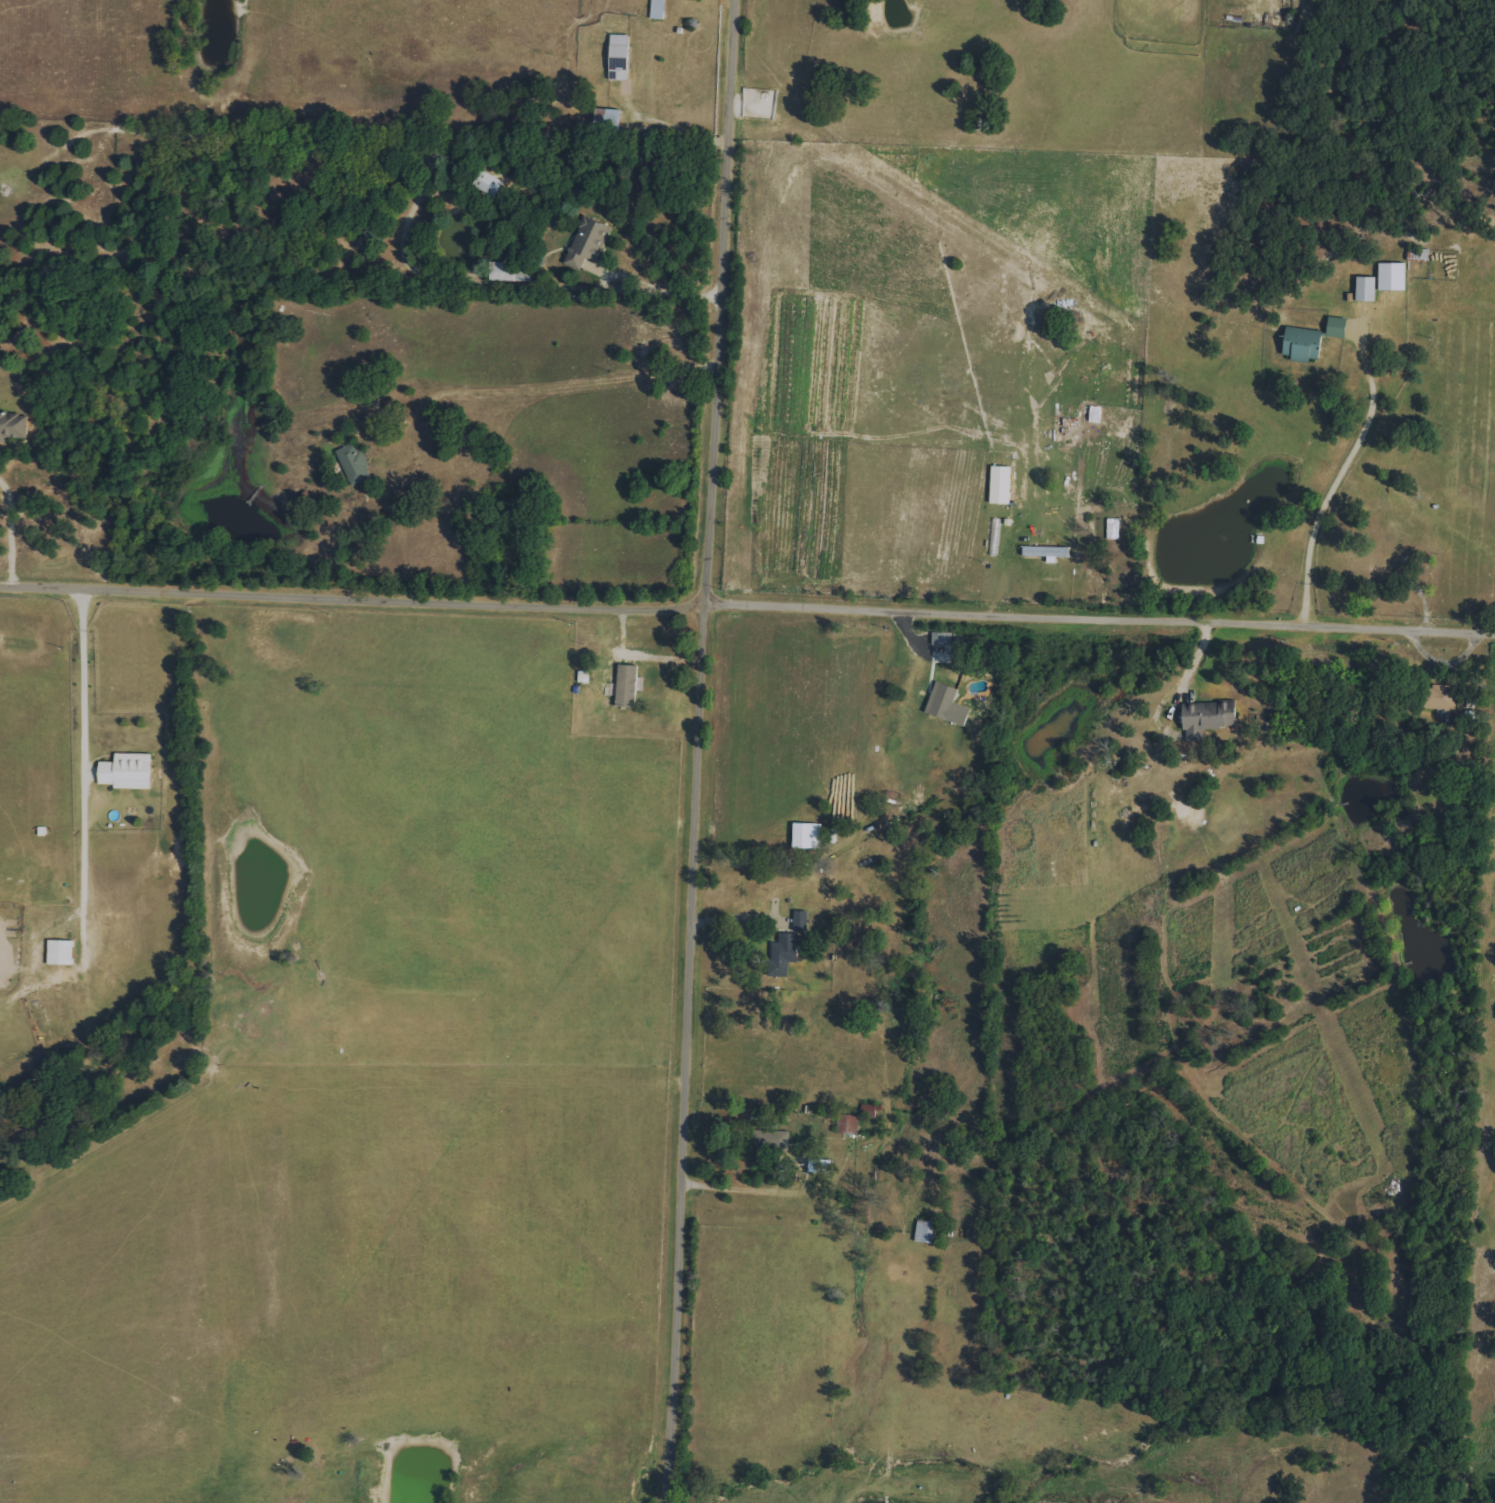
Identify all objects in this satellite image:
building: (657, 9)
building: (618, 56)
building: (606, 119)
road: (665, 126)
building: (486, 183)
building: (587, 242)
building: (506, 271)
building: (1391, 275)
road: (654, 285)
building: (1365, 288)
building: (1336, 326)
building: (1302, 343)
road: (544, 388)
building: (12, 425)
building: (353, 463)
road: (1342, 484)
road: (12, 528)
building: (1045, 551)
road: (747, 605)
building: (940, 638)
road: (643, 657)
road: (1188, 673)
building: (626, 685)
building: (1442, 696)
building: (941, 700)
building: (1205, 718)
road: (84, 747)
road: (694, 751)
building: (126, 771)
building: (806, 835)
building: (799, 920)
road: (731, 923)
building: (59, 952)
building: (783, 953)
building: (870, 1110)
building: (769, 1142)
building: (819, 1165)
road: (725, 1187)
building: (924, 1231)

